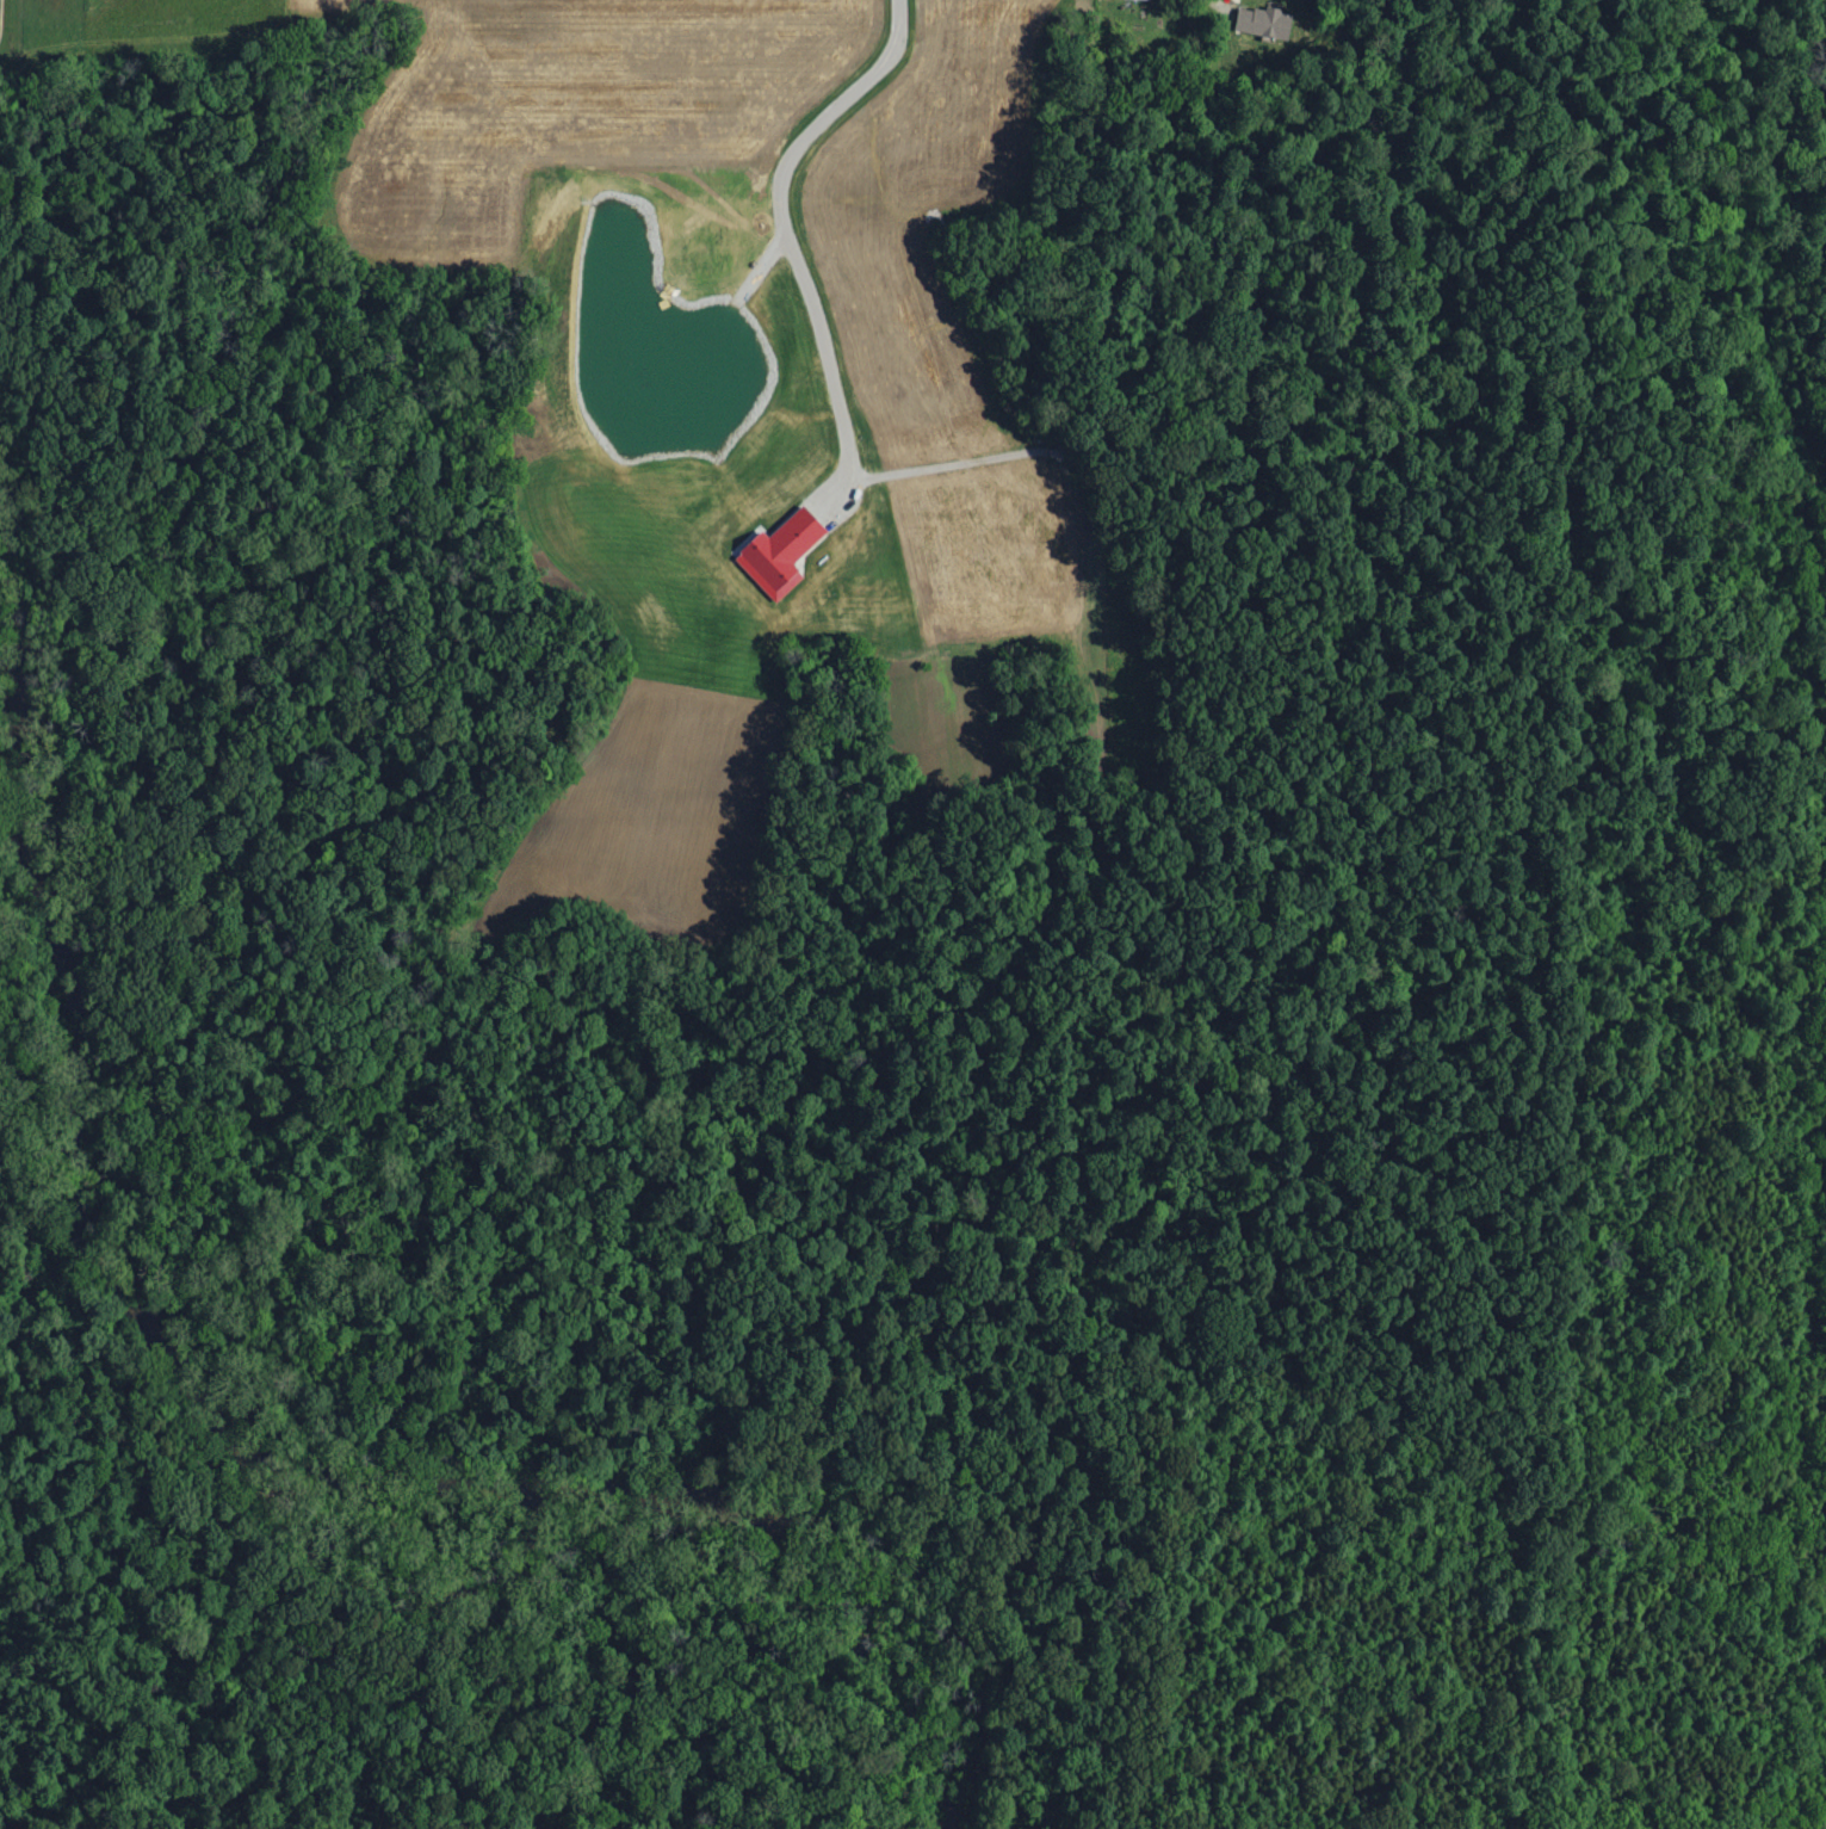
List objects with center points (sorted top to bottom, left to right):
building: (1265, 23)
building: (784, 552)

